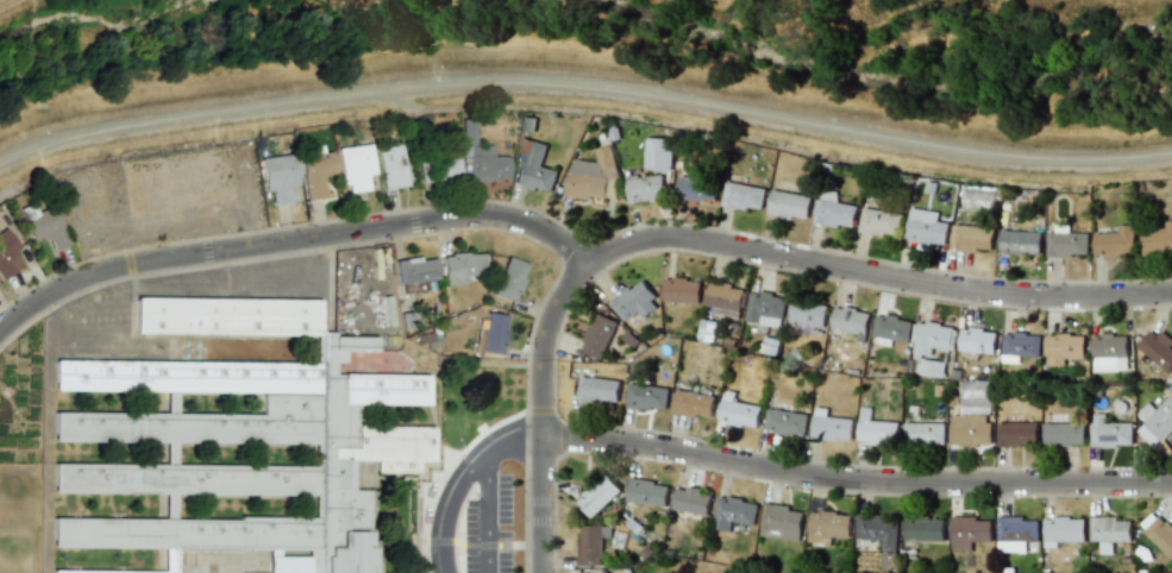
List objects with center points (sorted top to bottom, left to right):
road: (585, 83)
building: (657, 153)
building: (480, 157)
building: (355, 166)
building: (391, 166)
building: (533, 166)
building: (445, 168)
building: (315, 172)
building: (182, 175)
building: (589, 176)
building: (277, 177)
building: (645, 188)
building: (696, 189)
building: (742, 196)
building: (976, 200)
building: (789, 204)
building: (833, 210)
building: (879, 222)
building: (43, 226)
building: (926, 227)
building: (972, 238)
building: (1157, 239)
building: (1019, 241)
road: (293, 243)
building: (1115, 243)
building: (1066, 244)
building: (6, 253)
road: (313, 257)
building: (459, 267)
building: (414, 270)
road: (878, 275)
road: (149, 278)
building: (508, 279)
road: (234, 282)
building: (681, 290)
building: (723, 300)
building: (634, 302)
road: (82, 309)
building: (765, 309)
building: (807, 316)
road: (44, 319)
building: (851, 321)
building: (708, 325)
building: (891, 328)
road: (87, 332)
building: (490, 334)
building: (597, 335)
building: (977, 341)
building: (930, 346)
building: (1020, 346)
building: (1064, 348)
building: (1158, 348)
building: (1109, 353)
building: (598, 390)
building: (646, 397)
building: (692, 404)
road: (544, 411)
building: (738, 411)
building: (1155, 421)
building: (785, 422)
building: (829, 426)
building: (876, 429)
building: (970, 429)
building: (1109, 432)
building: (923, 434)
building: (1017, 434)
building: (1064, 434)
road: (459, 479)
road: (857, 480)
building: (647, 492)
building: (597, 496)
building: (691, 500)
road: (487, 511)
building: (733, 512)
building: (781, 522)
building: (827, 527)
building: (877, 529)
building: (923, 529)
building: (1064, 529)
building: (969, 533)
building: (1110, 533)
building: (1017, 535)
building: (1160, 535)
building: (591, 543)
building: (888, 560)
building: (602, 571)
building: (582, 572)
building: (635, 572)

